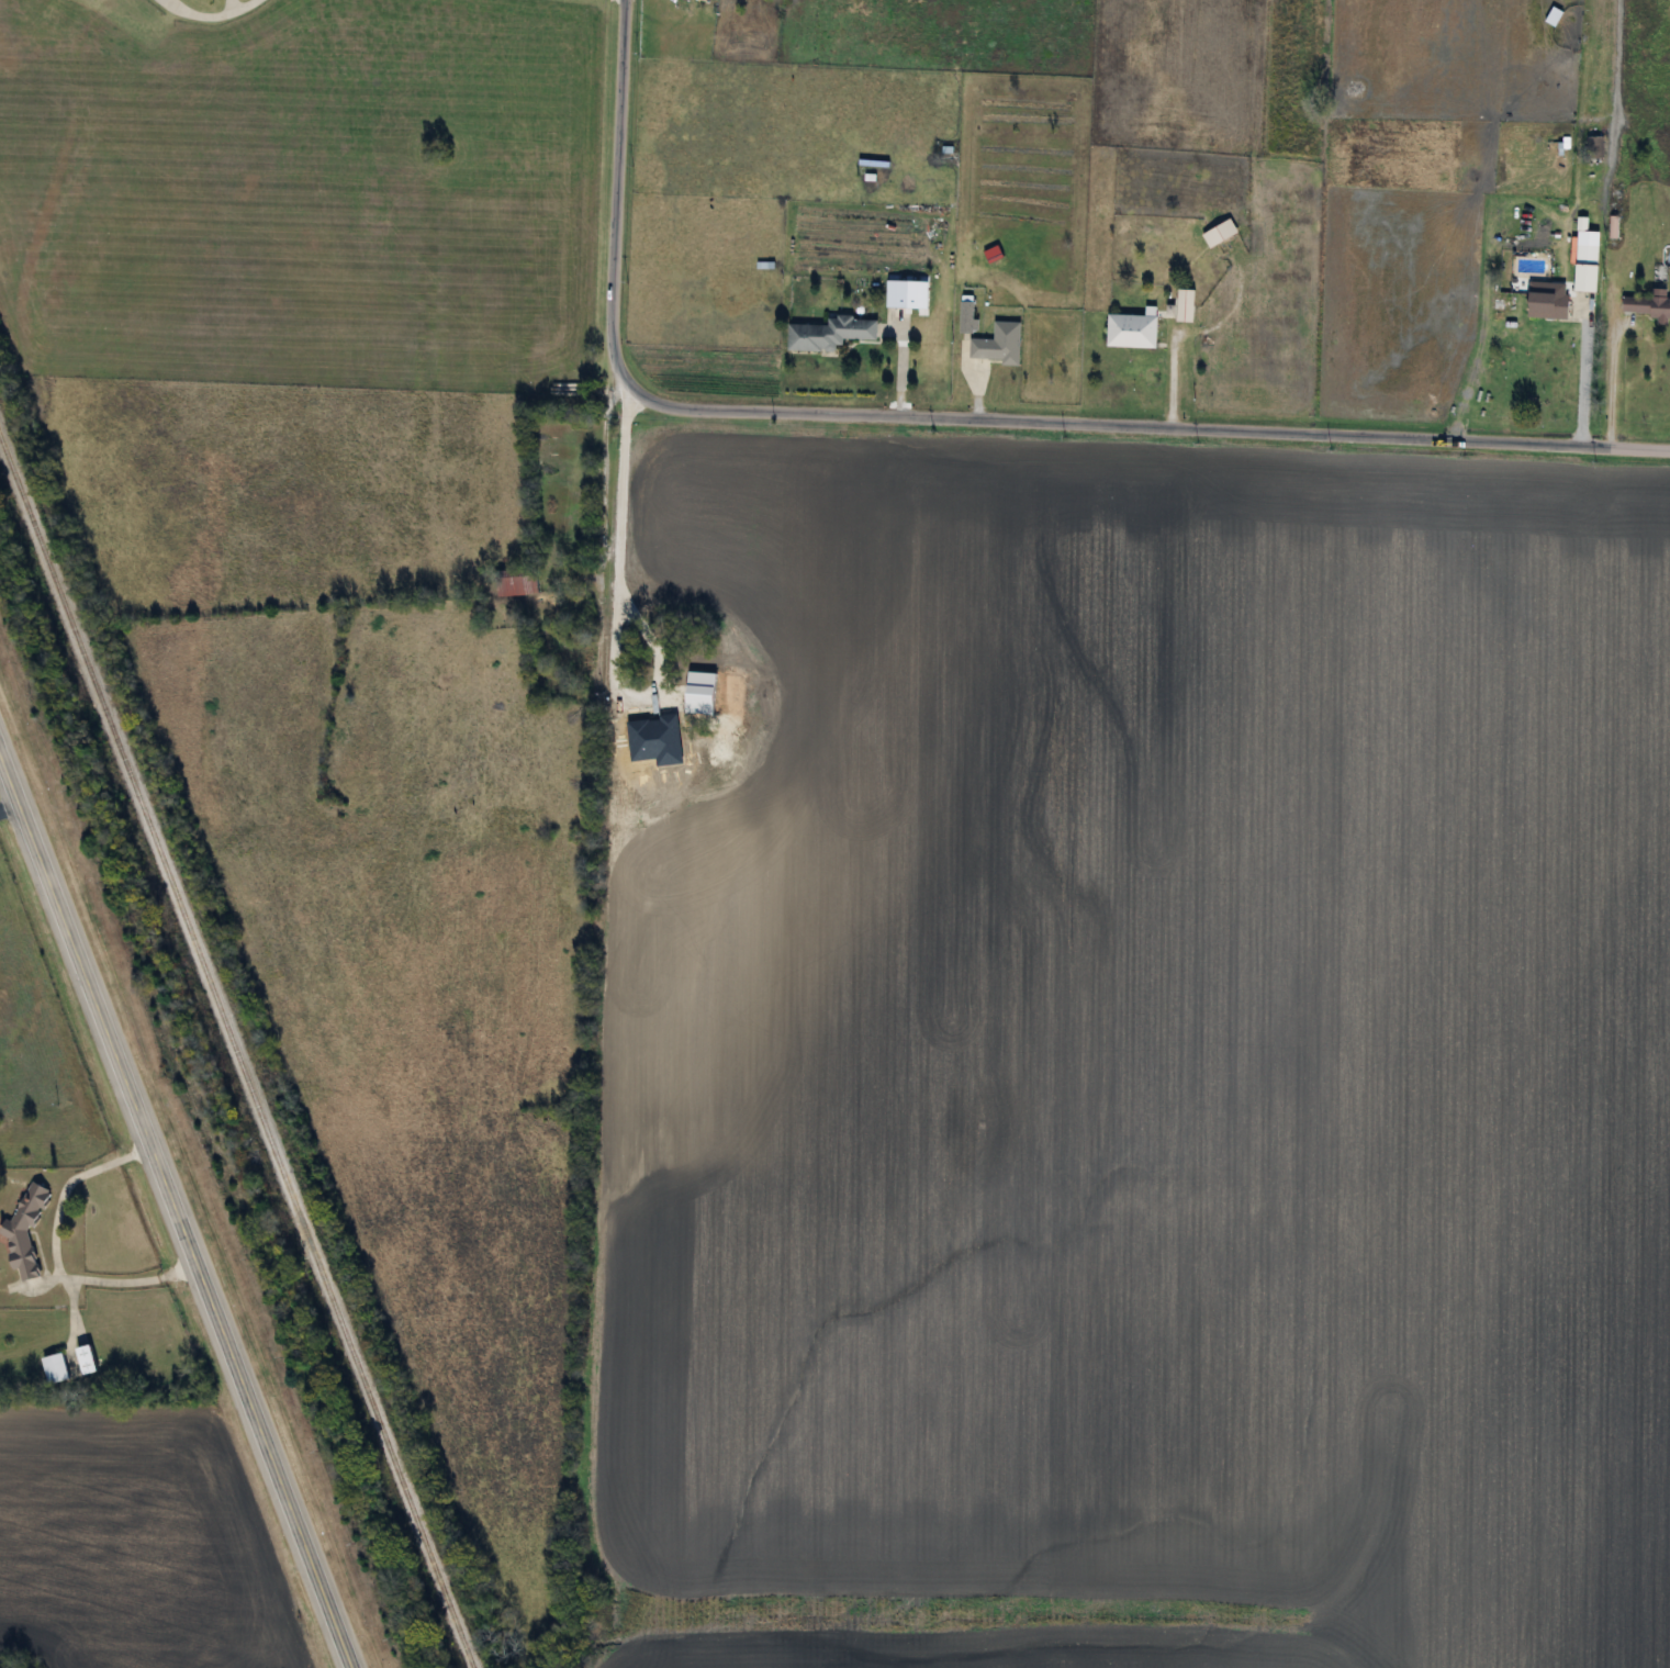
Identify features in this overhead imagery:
road: (239, 9)
building: (1550, 16)
building: (1593, 148)
building: (1218, 233)
building: (1584, 254)
building: (894, 300)
building: (1183, 305)
building: (1545, 305)
building: (1646, 305)
building: (965, 314)
building: (1129, 331)
building: (828, 334)
building: (997, 345)
road: (1581, 384)
road: (1610, 385)
road: (951, 418)
road: (604, 486)
building: (514, 581)
road: (11, 808)
railway: (235, 1052)
road: (175, 1207)
building: (23, 1230)
road: (53, 1250)
building: (83, 1359)
building: (53, 1368)

